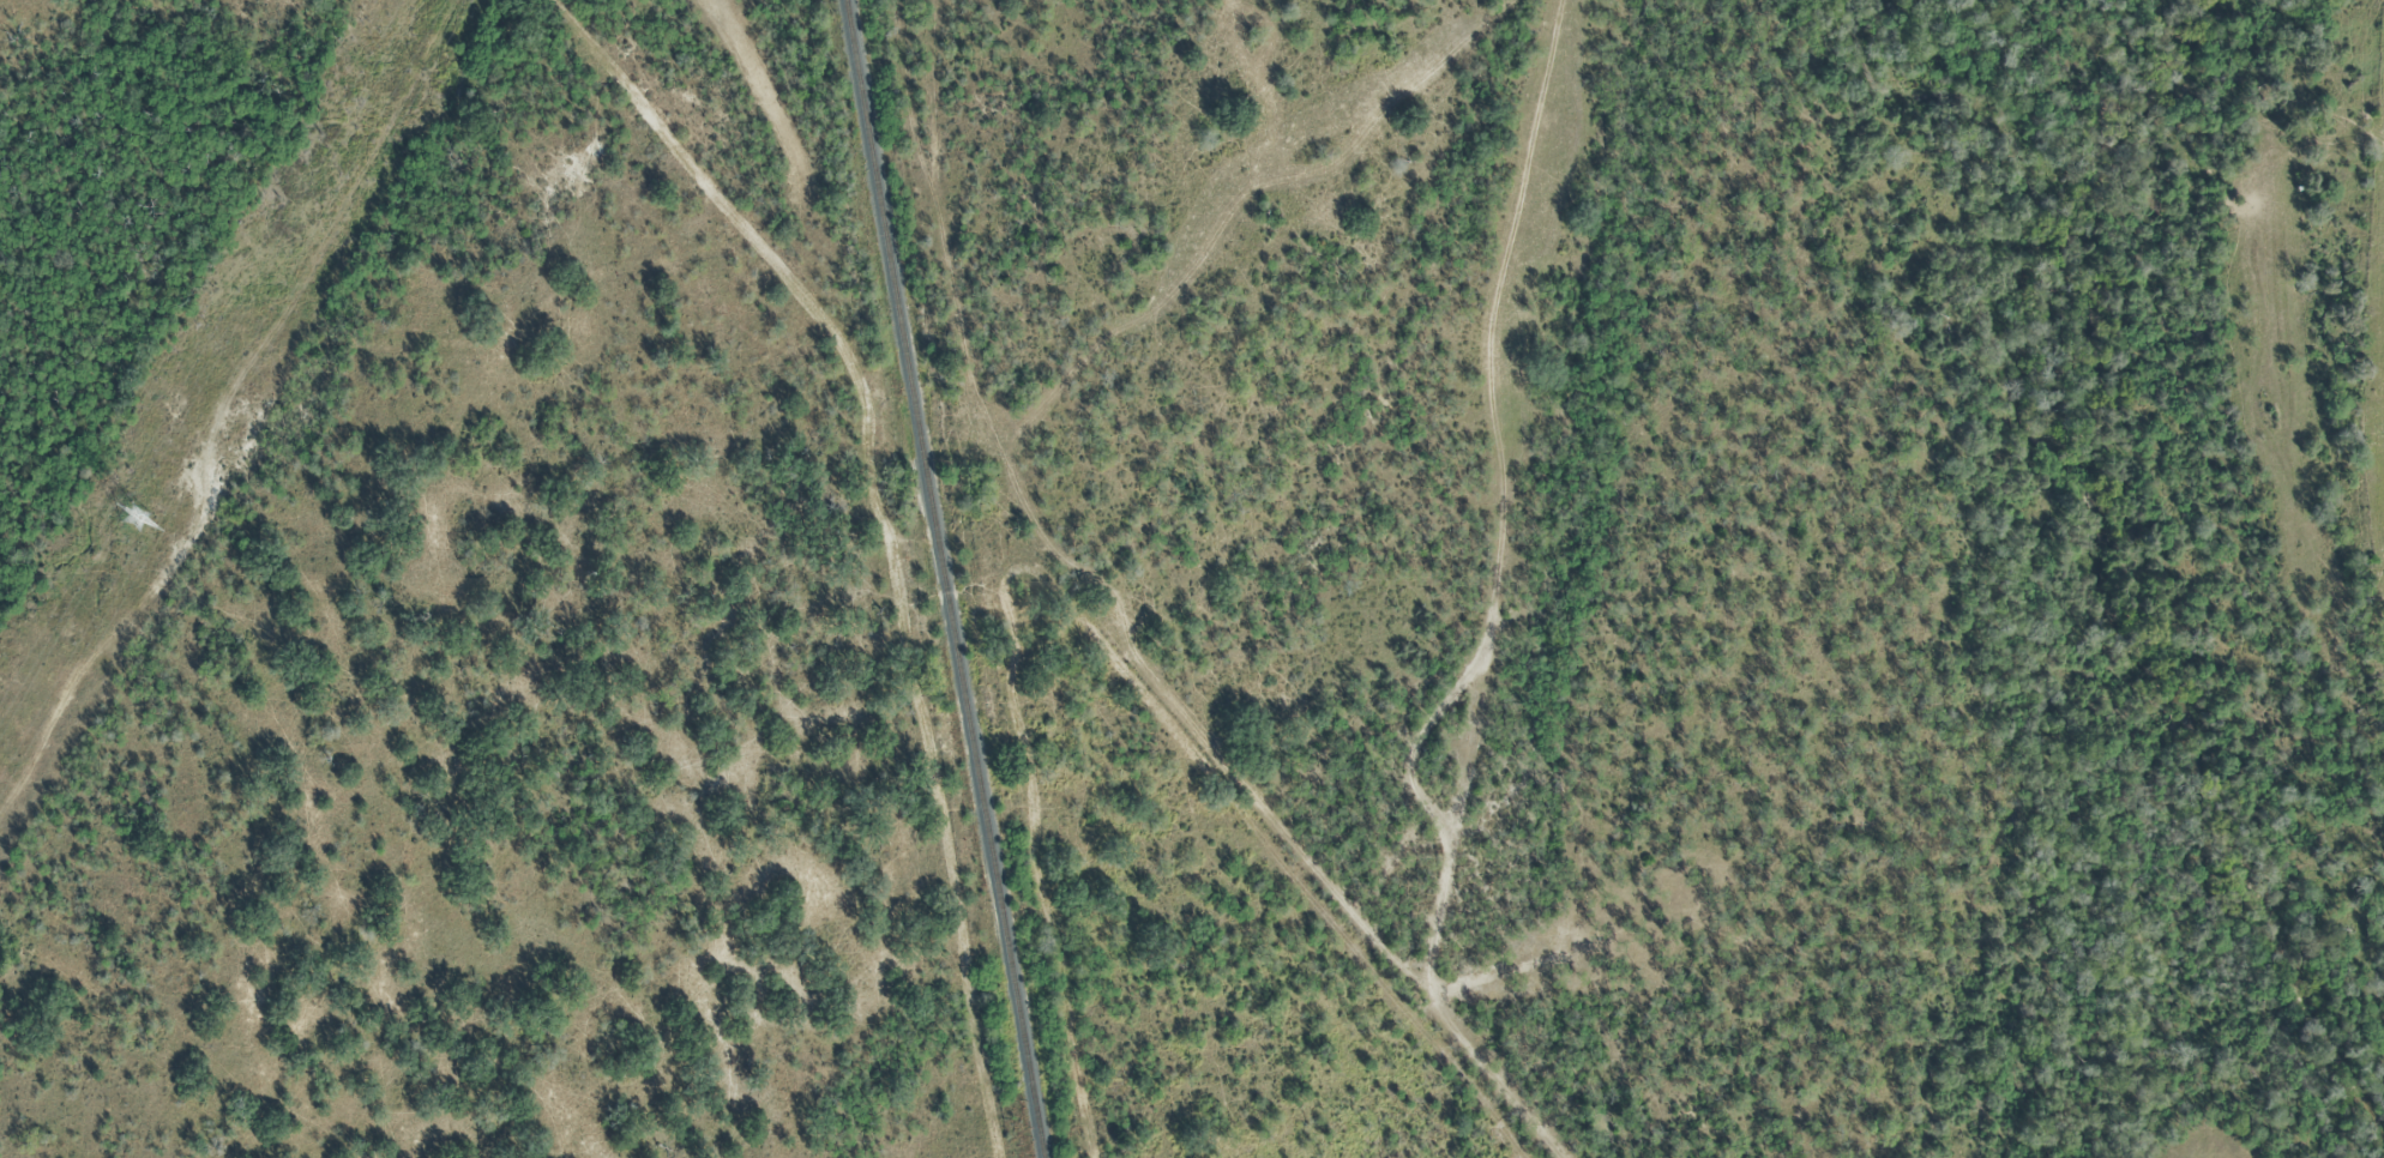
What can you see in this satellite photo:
river: (2123, 108)
power tower: (131, 518)
railway: (943, 578)
river: (2156, 674)

